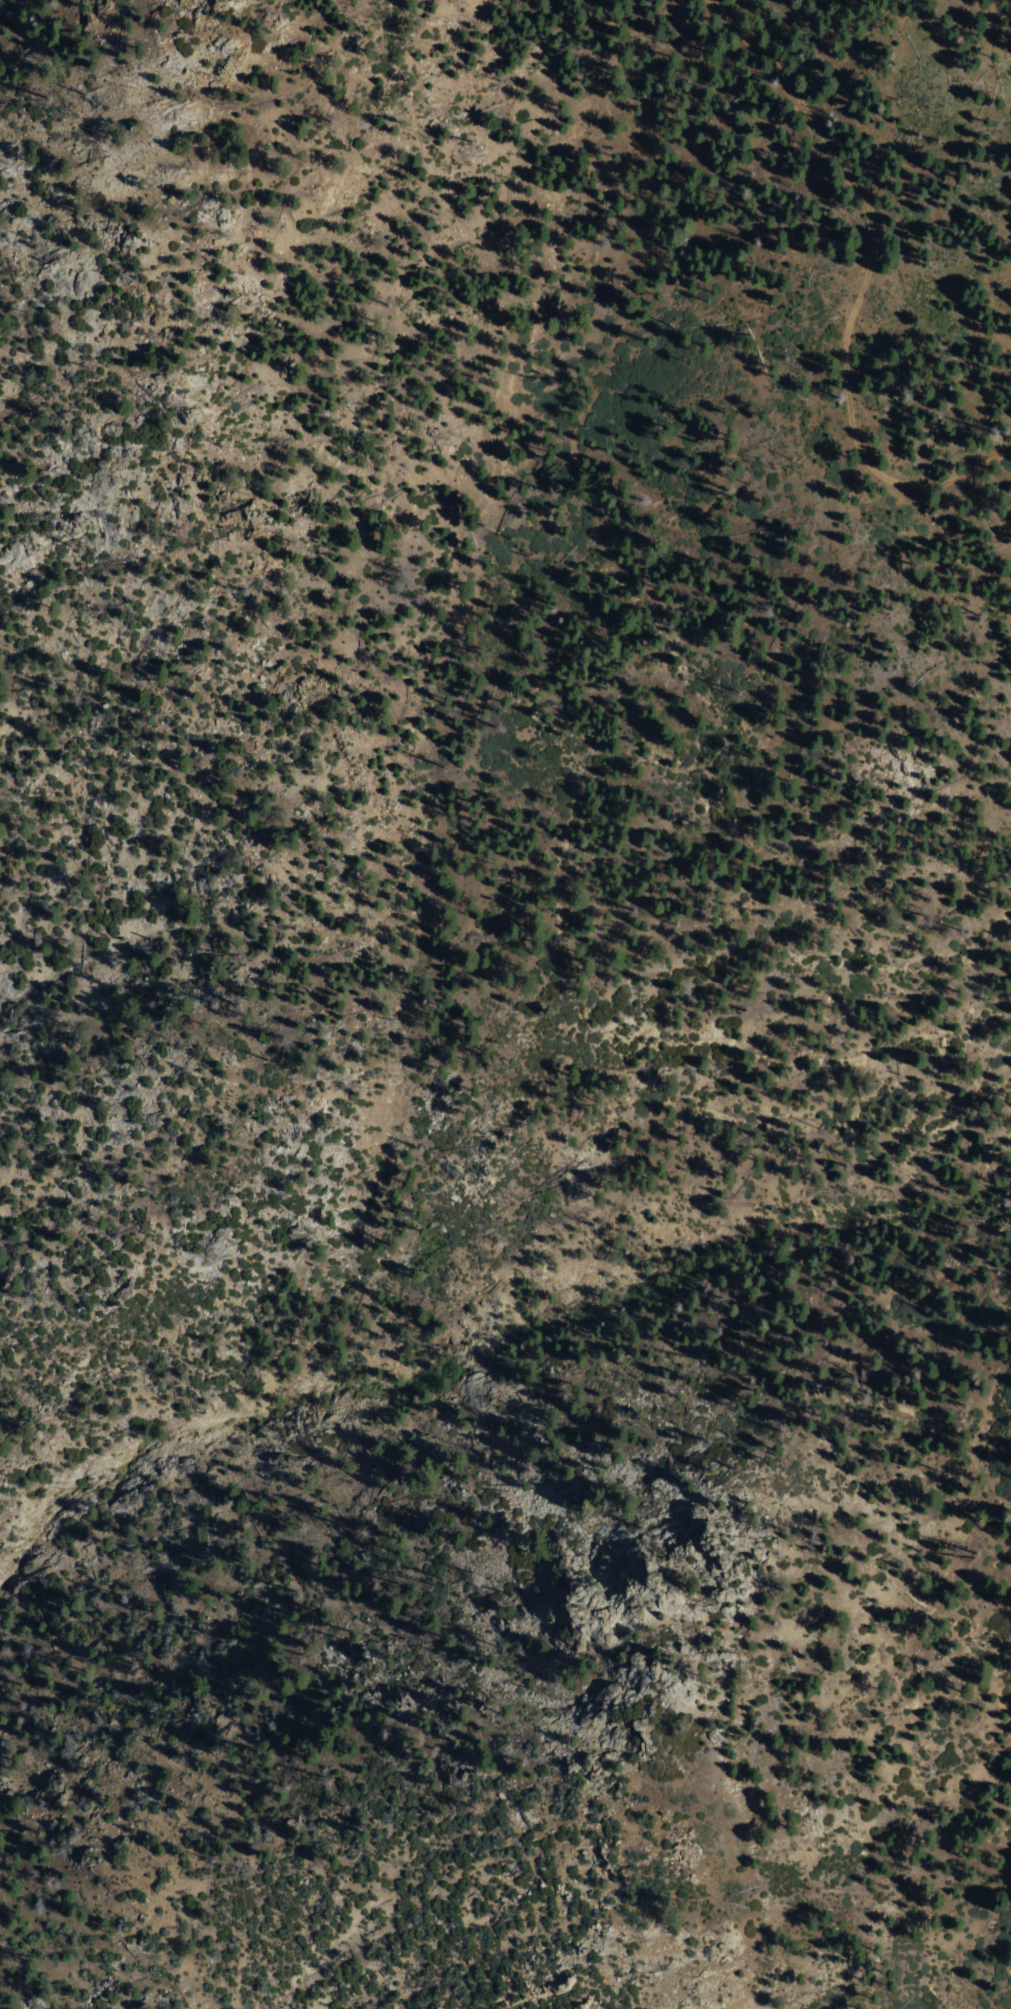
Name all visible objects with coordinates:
road: (861, 286)

